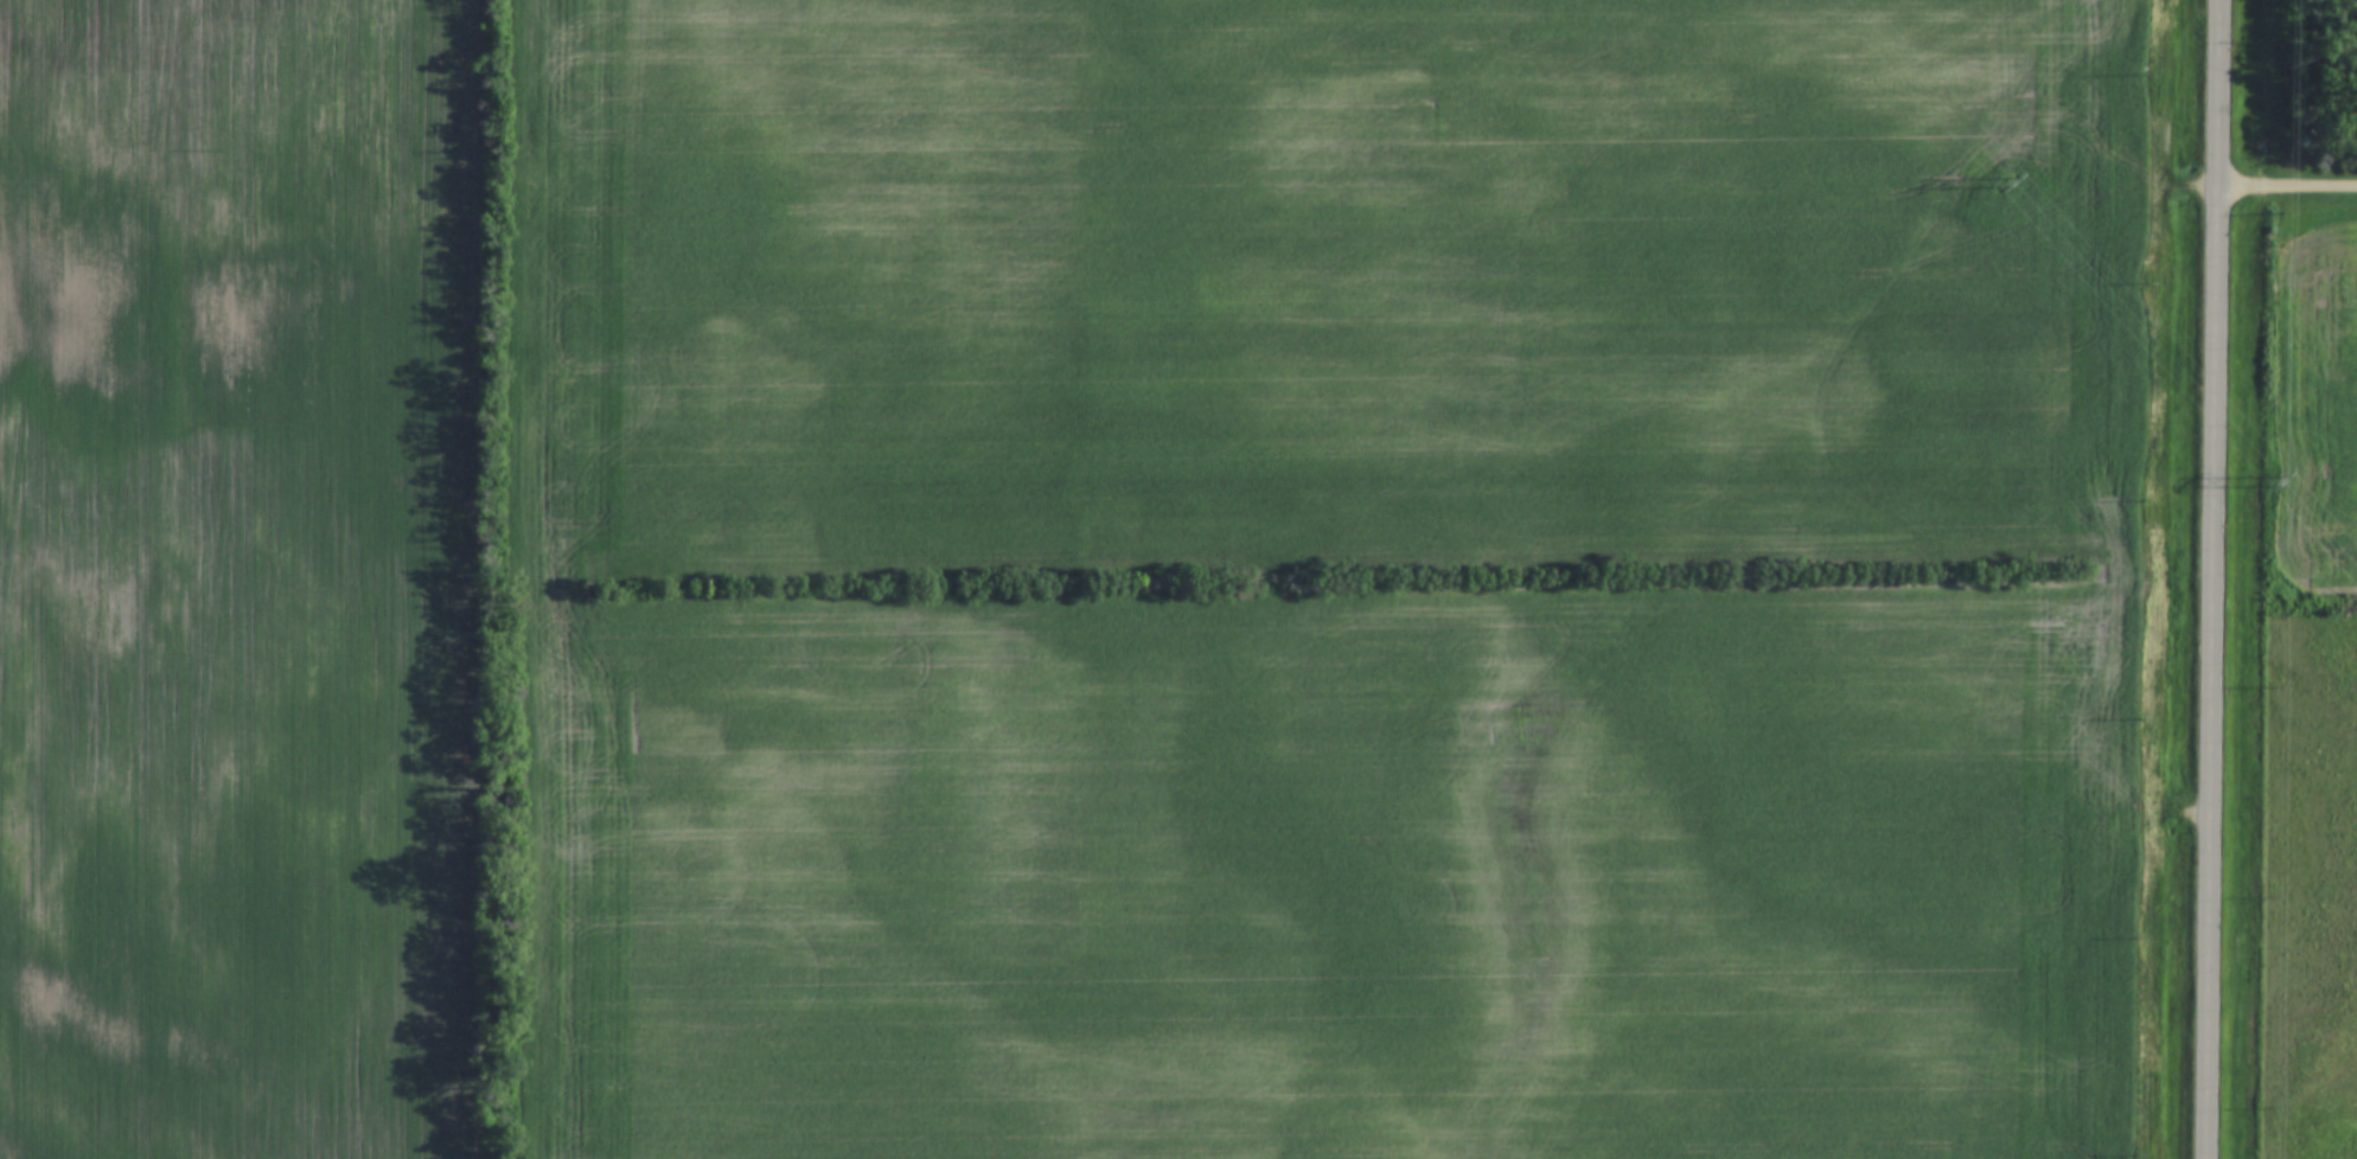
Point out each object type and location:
power tower: (2004, 181)
road: (2289, 184)
road: (2217, 578)

